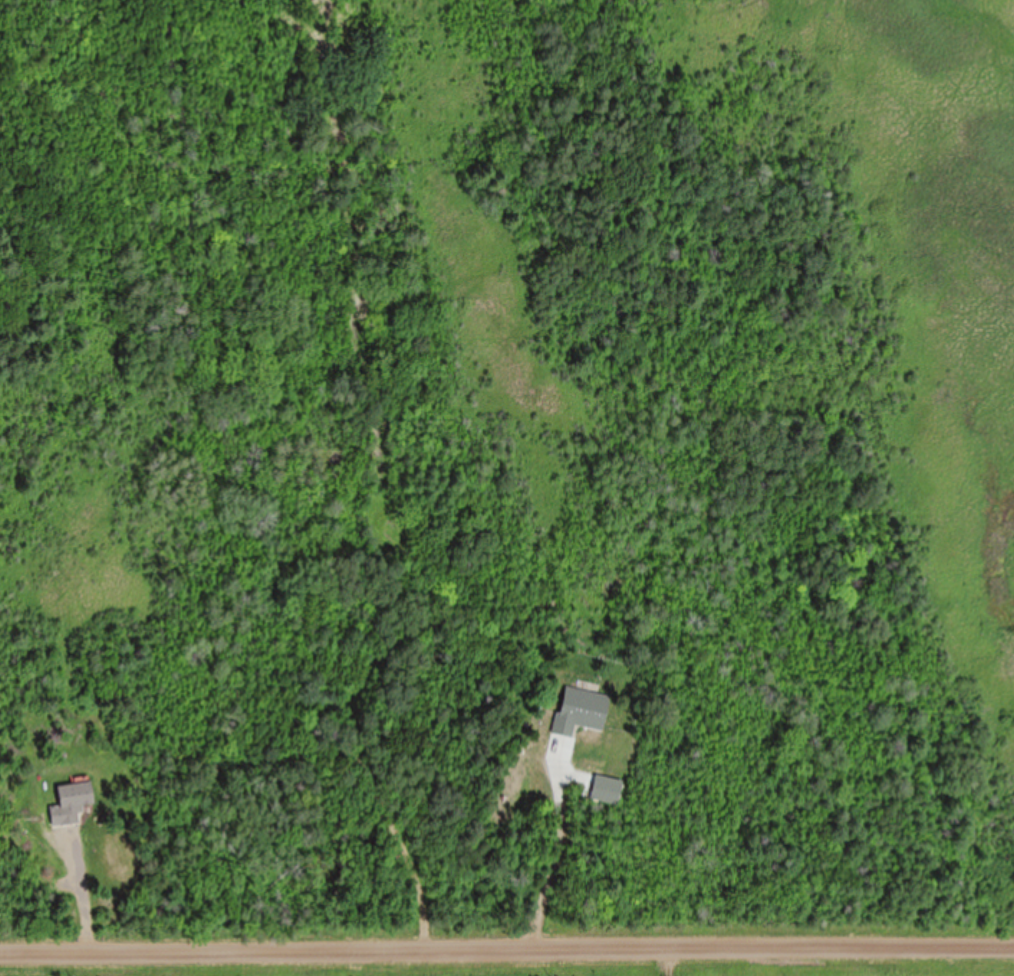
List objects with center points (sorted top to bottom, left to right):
building: (581, 712)
building: (71, 805)
road: (550, 863)
road: (507, 959)

